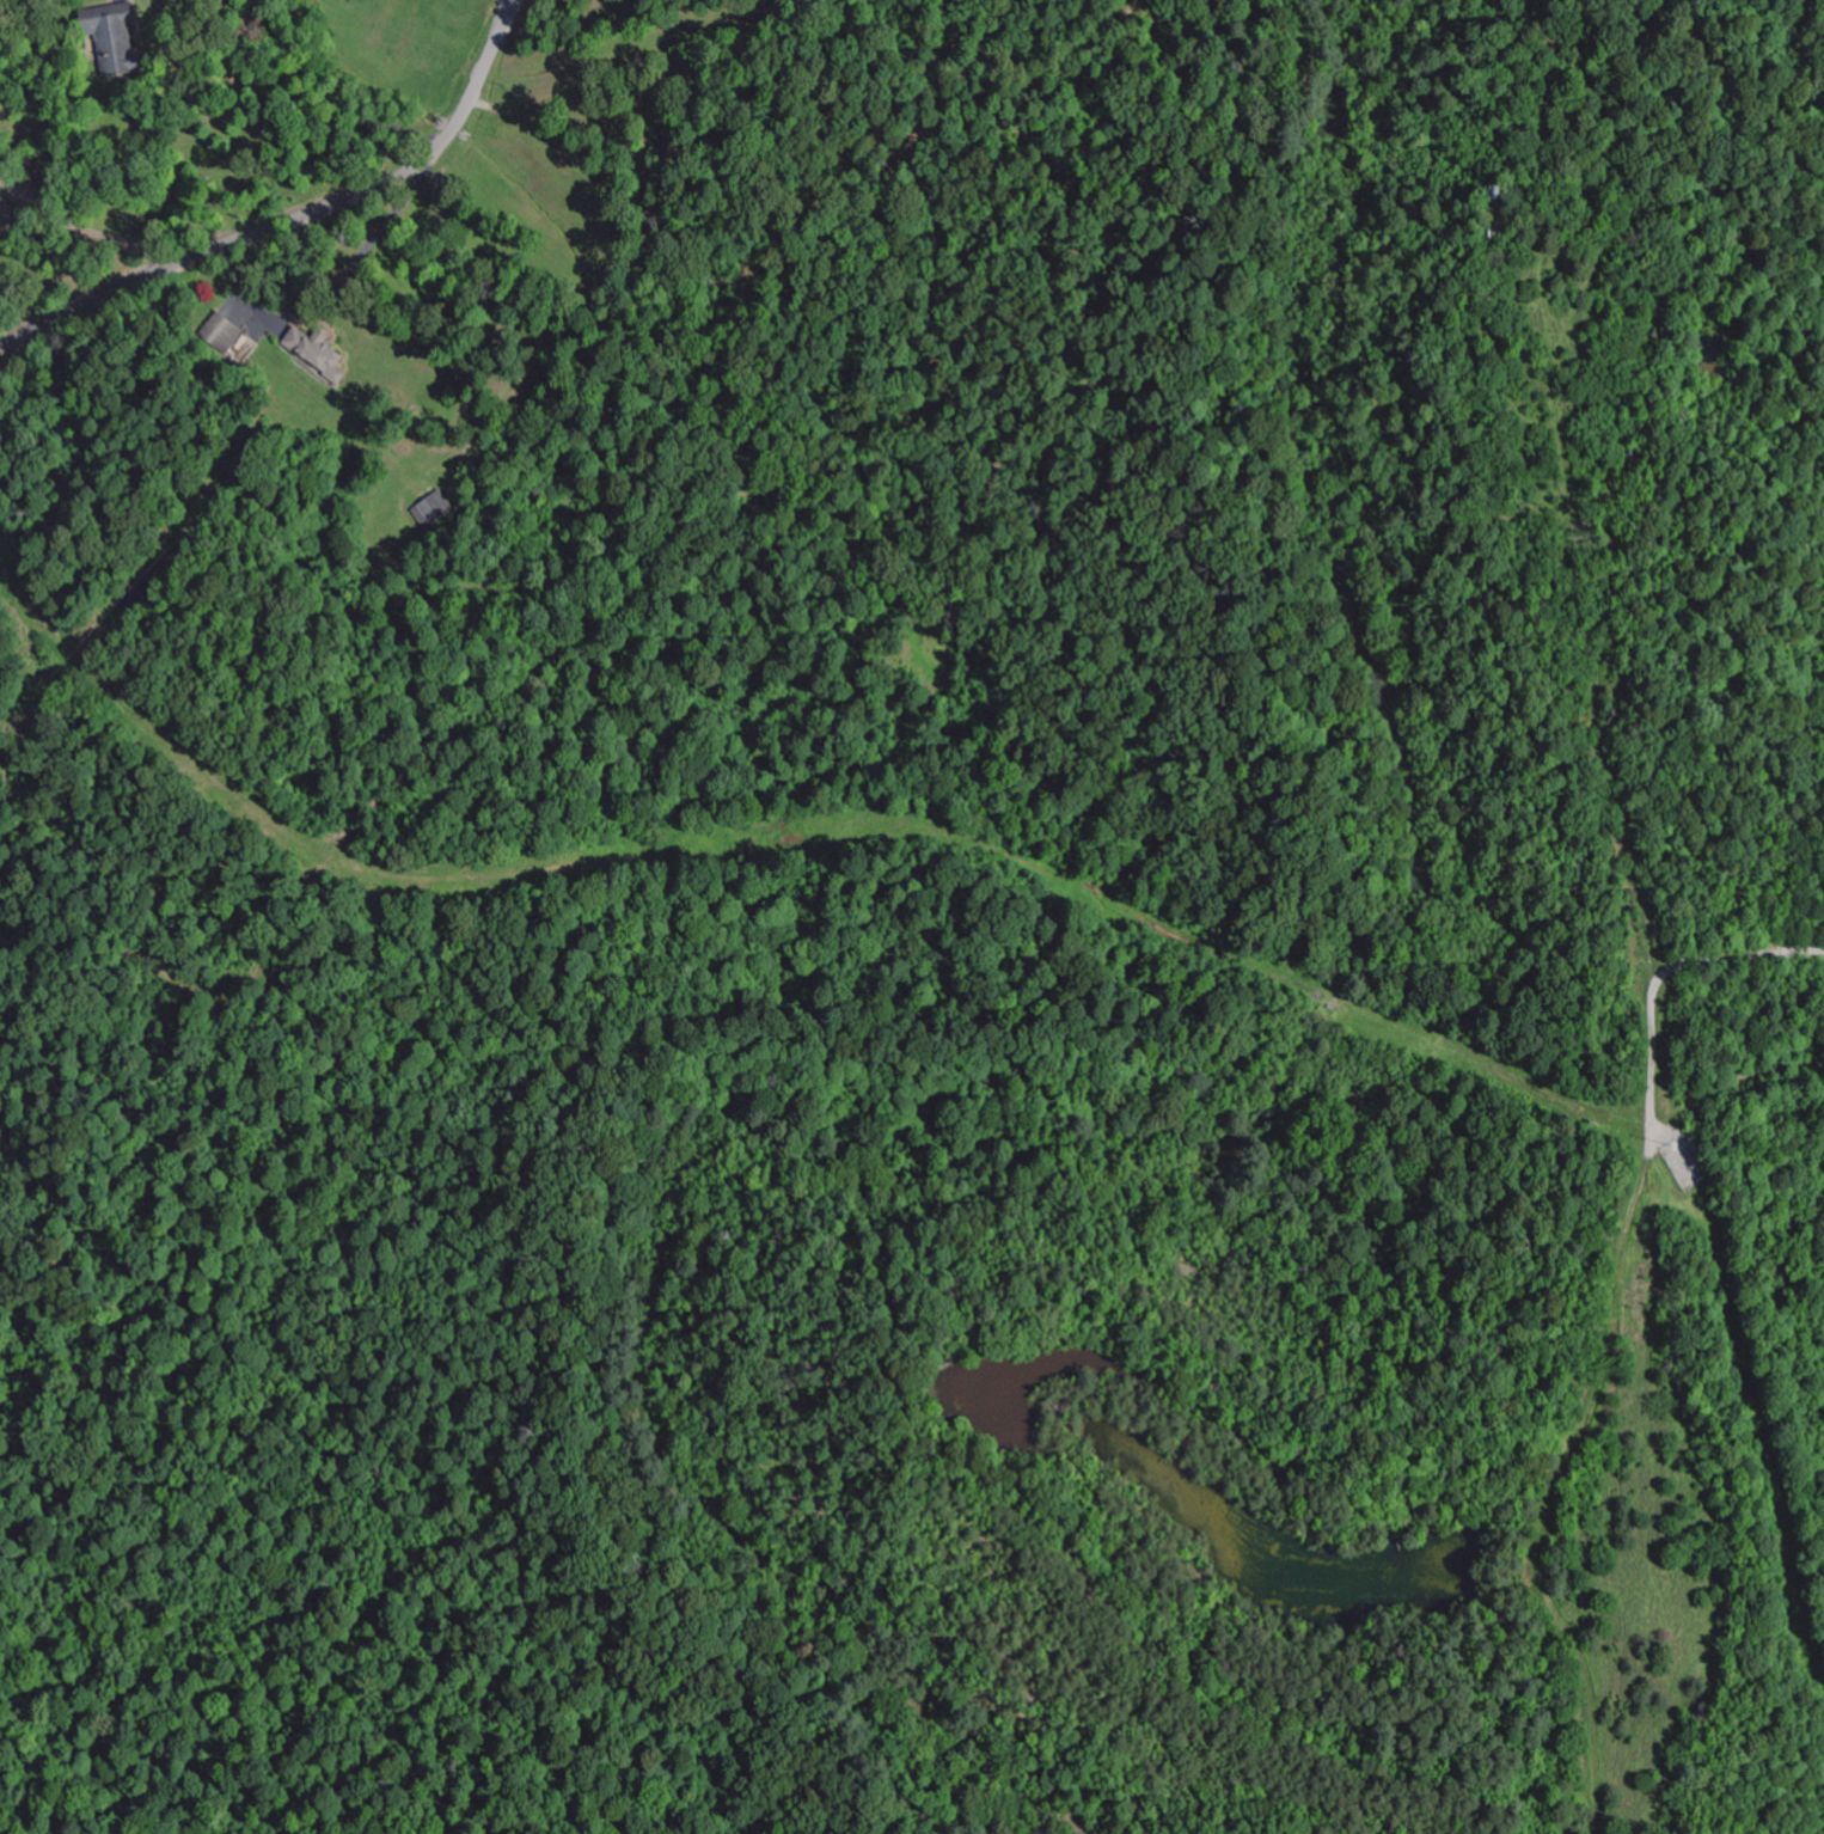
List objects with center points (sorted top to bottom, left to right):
building: (114, 44)
building: (8, 219)
road: (296, 219)
building: (231, 338)
building: (317, 354)
building: (433, 509)

